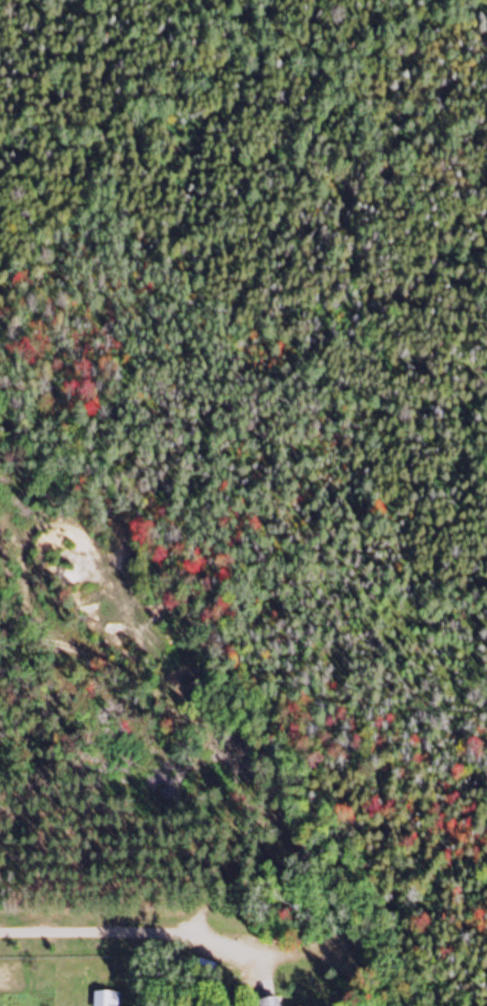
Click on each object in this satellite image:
building: (105, 1000)
building: (267, 1004)

